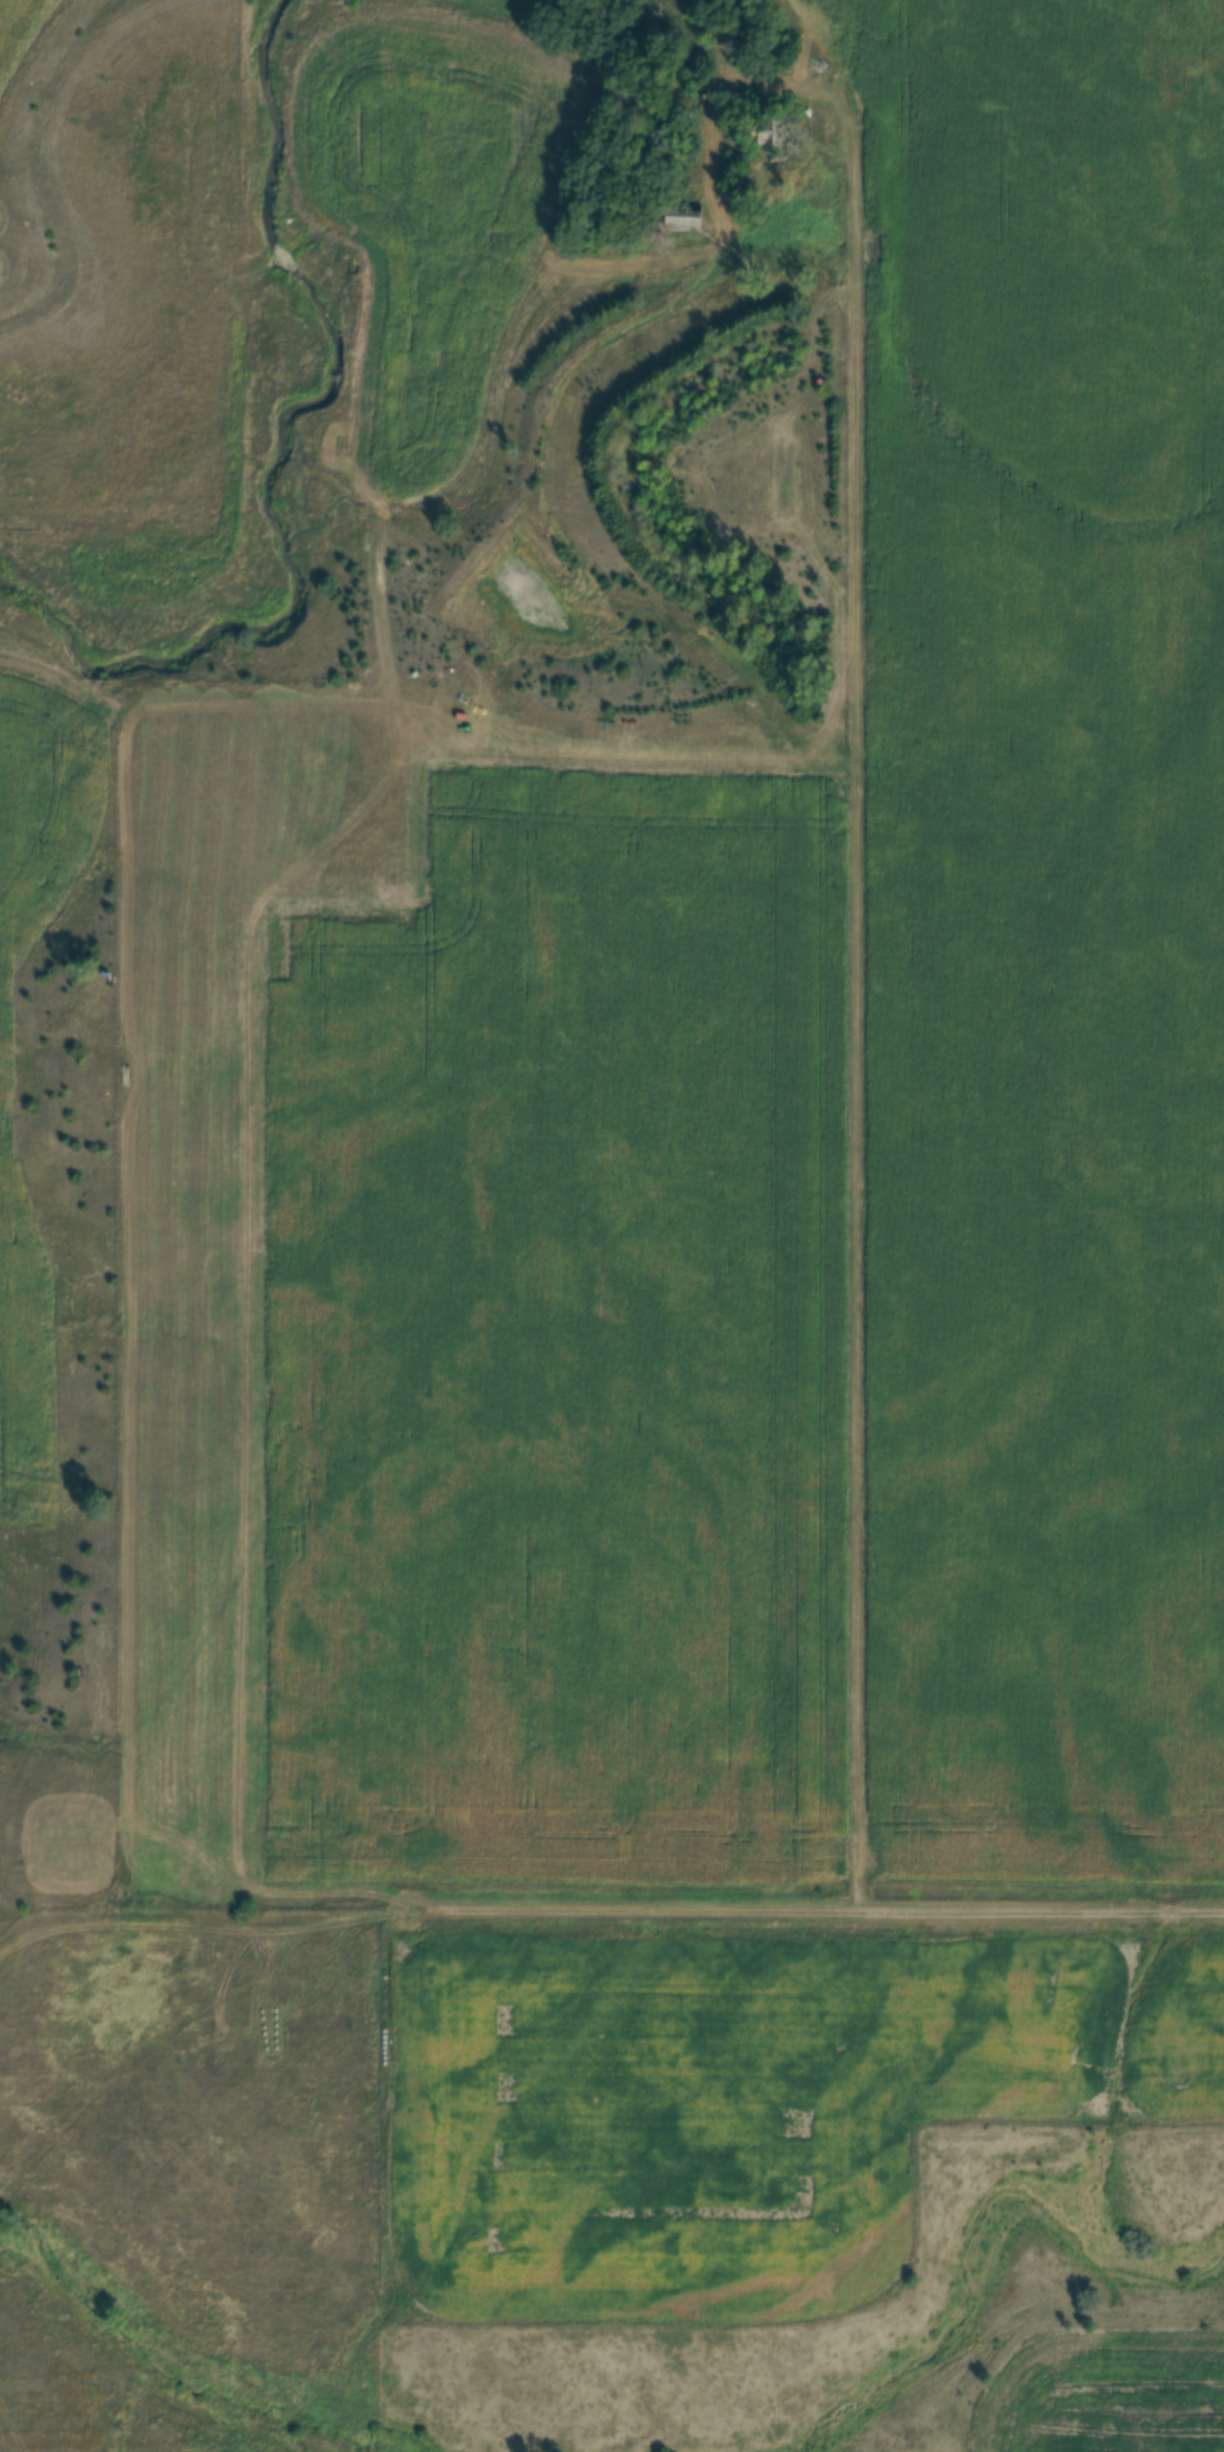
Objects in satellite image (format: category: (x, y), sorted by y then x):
building: (682, 220)
road: (811, 1910)
road: (173, 2056)

